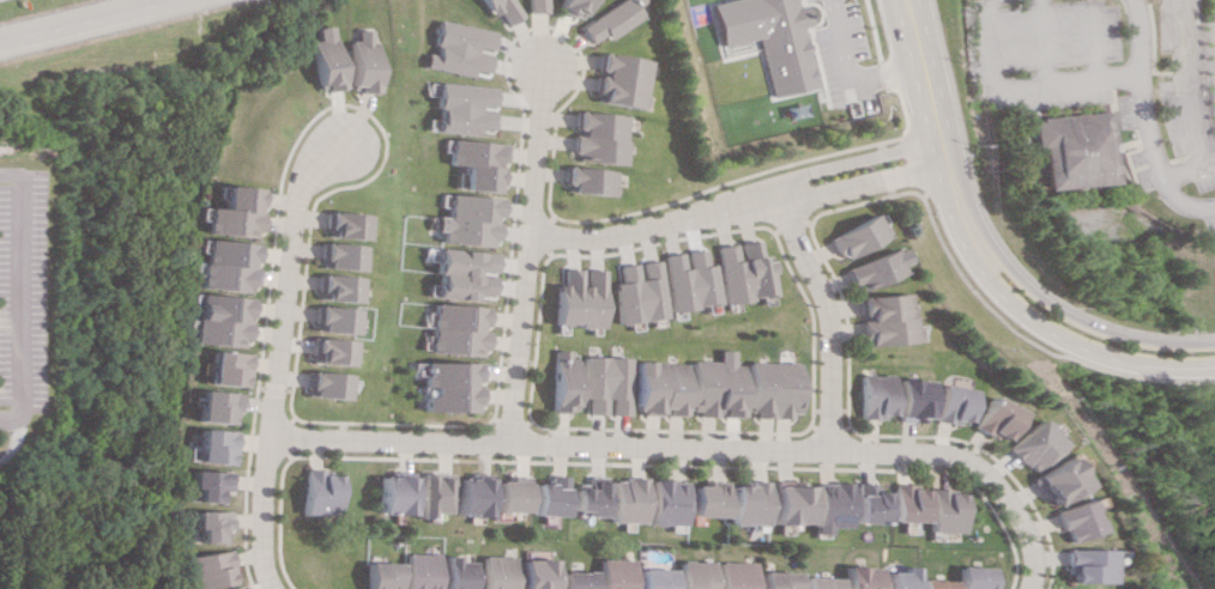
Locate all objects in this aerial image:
road: (29, 4)
building: (533, 6)
building: (570, 7)
building: (500, 8)
building: (612, 18)
road: (79, 19)
building: (770, 38)
road: (845, 41)
building: (455, 48)
building: (324, 59)
building: (361, 61)
road: (889, 74)
building: (618, 80)
road: (1015, 83)
building: (457, 107)
road: (933, 120)
road: (1134, 128)
building: (596, 136)
building: (1069, 147)
road: (857, 159)
building: (472, 163)
building: (586, 180)
road: (863, 182)
building: (229, 212)
building: (463, 220)
building: (340, 224)
road: (651, 225)
building: (854, 236)
road: (518, 253)
building: (334, 255)
building: (222, 265)
building: (871, 269)
building: (739, 271)
building: (455, 274)
road: (280, 278)
building: (687, 279)
building: (332, 287)
road: (13, 290)
building: (635, 291)
building: (573, 298)
road: (823, 317)
building: (328, 318)
building: (884, 318)
building: (216, 320)
road: (1081, 321)
building: (451, 329)
road: (1069, 342)
building: (326, 351)
building: (224, 368)
building: (561, 381)
building: (322, 384)
building: (604, 384)
building: (446, 385)
building: (659, 387)
building: (713, 388)
building: (768, 388)
building: (870, 395)
building: (908, 399)
building: (950, 403)
building: (214, 406)
building: (993, 418)
building: (1030, 444)
building: (213, 445)
road: (612, 447)
building: (1053, 480)
building: (208, 484)
building: (316, 492)
building: (429, 492)
building: (392, 494)
building: (470, 496)
building: (509, 496)
building: (549, 496)
building: (590, 496)
building: (706, 498)
building: (627, 499)
building: (666, 502)
building: (744, 503)
building: (901, 503)
building: (784, 504)
building: (860, 504)
building: (822, 505)
building: (941, 511)
building: (1071, 520)
building: (210, 524)
building: (1083, 564)
building: (208, 569)
building: (421, 570)
building: (498, 571)
building: (458, 572)
building: (538, 573)
building: (616, 573)
building: (695, 573)
building: (381, 575)
building: (733, 575)
building: (851, 577)
building: (969, 577)
building: (655, 578)
building: (893, 578)
building: (576, 579)
building: (773, 579)
building: (812, 582)
building: (930, 583)

